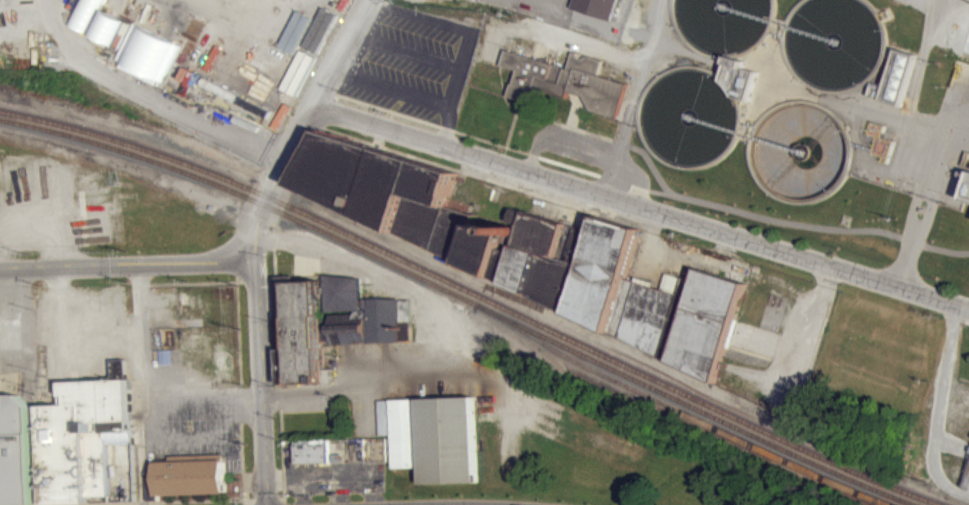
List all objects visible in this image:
building: (600, 11)
road: (226, 12)
building: (321, 37)
building: (148, 61)
road: (647, 65)
building: (744, 78)
building: (896, 78)
building: (566, 80)
road: (918, 83)
wastewater plant: (569, 96)
road: (143, 103)
building: (261, 118)
building: (882, 149)
road: (945, 151)
road: (618, 162)
road: (930, 193)
building: (967, 195)
building: (968, 203)
road: (639, 204)
road: (252, 239)
building: (531, 253)
road: (908, 261)
road: (126, 264)
road: (195, 282)
road: (274, 290)
railway: (464, 296)
railway: (453, 302)
road: (139, 306)
building: (337, 323)
road: (807, 324)
road: (57, 349)
road: (239, 382)
road: (174, 404)
railway: (670, 414)
road: (198, 436)
building: (432, 436)
building: (88, 441)
building: (16, 451)
road: (138, 451)
building: (311, 452)
building: (190, 474)
building: (966, 485)
road: (178, 501)

